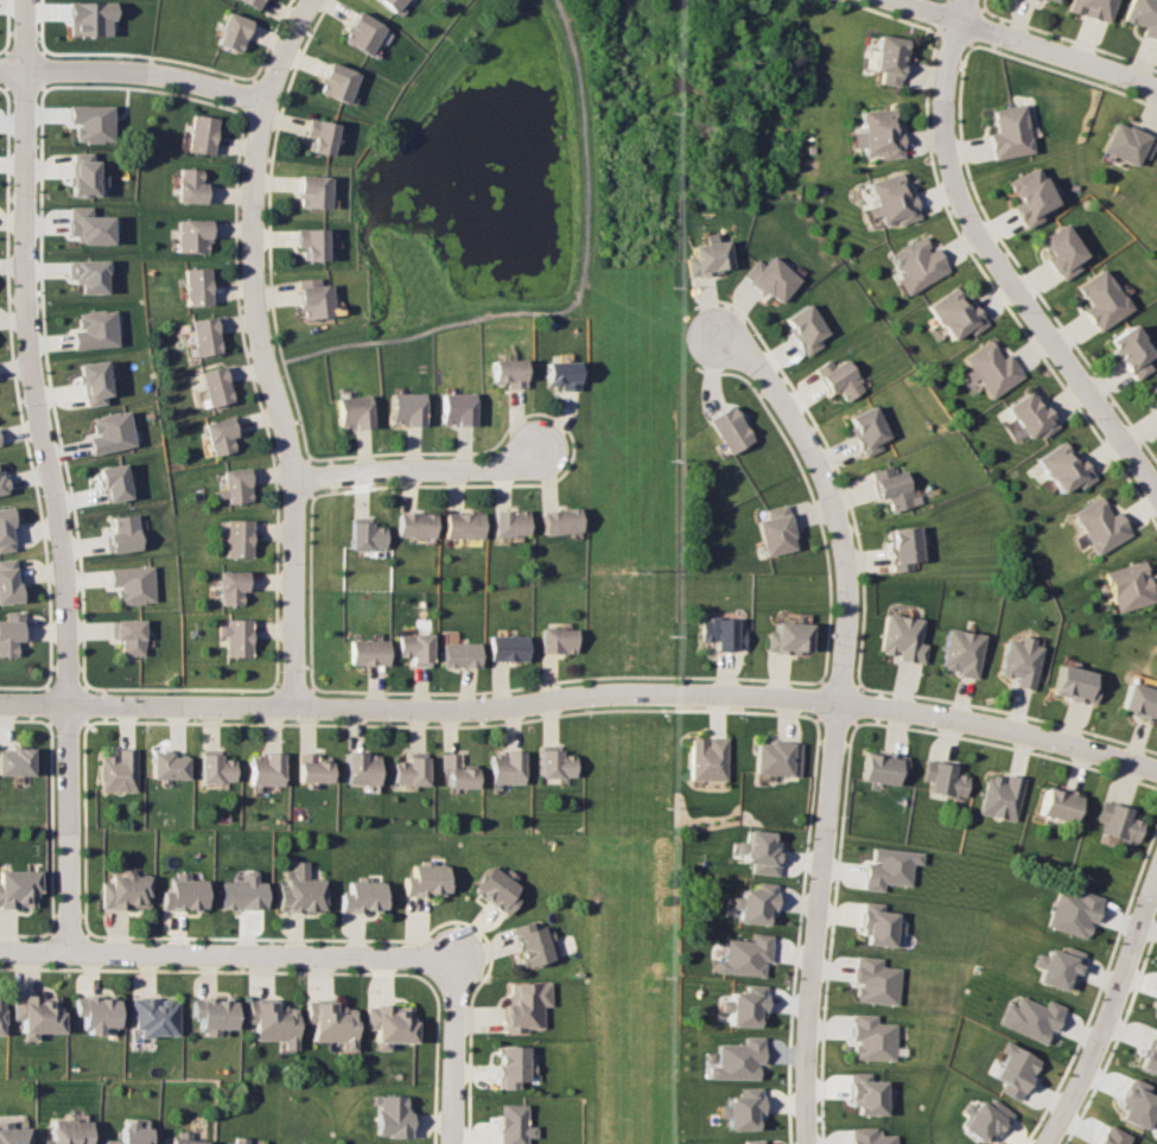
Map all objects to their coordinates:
building: (1053, 0)
building: (250, 2)
building: (389, 4)
building: (1093, 8)
building: (1143, 15)
building: (89, 18)
building: (231, 31)
building: (361, 32)
road: (1023, 46)
building: (886, 58)
road: (132, 72)
building: (336, 82)
building: (90, 122)
building: (1010, 132)
building: (878, 133)
building: (199, 134)
building: (318, 134)
building: (1130, 142)
road: (24, 146)
building: (83, 174)
building: (190, 185)
building: (311, 191)
building: (1032, 196)
building: (891, 201)
building: (87, 225)
building: (190, 235)
building: (310, 242)
building: (1063, 249)
building: (707, 258)
road: (1004, 259)
building: (917, 263)
building: (87, 274)
building: (771, 278)
building: (193, 286)
building: (313, 298)
building: (1102, 299)
road: (570, 306)
building: (956, 313)
building: (93, 328)
building: (805, 328)
building: (203, 335)
road: (262, 350)
building: (1132, 351)
building: (991, 368)
building: (507, 371)
building: (560, 374)
building: (839, 379)
building: (91, 382)
building: (214, 386)
building: (1152, 390)
building: (405, 408)
building: (454, 408)
building: (1156, 411)
building: (352, 412)
building: (1030, 415)
building: (730, 428)
building: (867, 430)
building: (109, 432)
building: (220, 434)
building: (1064, 468)
road: (420, 472)
building: (113, 481)
building: (2, 482)
building: (235, 485)
building: (894, 487)
building: (559, 520)
building: (510, 522)
building: (417, 523)
building: (463, 525)
building: (1099, 525)
building: (6, 529)
building: (776, 530)
building: (123, 533)
building: (367, 534)
building: (239, 538)
building: (903, 546)
building: (9, 580)
building: (133, 584)
building: (1129, 585)
building: (233, 586)
road: (69, 623)
building: (12, 633)
building: (720, 633)
building: (131, 635)
building: (236, 636)
building: (788, 637)
building: (902, 637)
building: (558, 640)
building: (417, 647)
building: (509, 647)
building: (369, 652)
building: (961, 652)
building: (462, 654)
building: (1019, 661)
building: (1074, 684)
building: (1139, 701)
road: (580, 707)
road: (843, 717)
building: (706, 757)
building: (776, 757)
building: (15, 761)
building: (555, 762)
building: (167, 765)
building: (215, 767)
building: (507, 767)
building: (884, 767)
building: (265, 768)
building: (312, 768)
building: (362, 768)
building: (412, 769)
building: (117, 770)
building: (458, 771)
building: (945, 778)
building: (1003, 795)
building: (1061, 802)
building: (1119, 821)
building: (757, 852)
building: (890, 867)
building: (426, 881)
building: (18, 888)
building: (496, 889)
building: (126, 890)
building: (184, 892)
building: (243, 892)
building: (362, 895)
building: (752, 904)
building: (1075, 911)
building: (878, 923)
building: (535, 943)
building: (743, 955)
road: (224, 958)
building: (1059, 967)
building: (875, 980)
building: (743, 1006)
building: (96, 1012)
building: (1, 1013)
building: (36, 1013)
building: (212, 1013)
building: (154, 1016)
building: (1031, 1017)
road: (1108, 1017)
building: (272, 1022)
building: (331, 1022)
building: (389, 1023)
building: (871, 1037)
building: (1151, 1054)
road: (459, 1059)
building: (735, 1060)
building: (515, 1066)
building: (1015, 1069)
building: (865, 1093)
building: (1137, 1104)
building: (740, 1110)
building: (390, 1117)
building: (984, 1118)
building: (514, 1124)
building: (68, 1131)
building: (132, 1132)
building: (13, 1133)
building: (869, 1136)
building: (1112, 1136)
building: (184, 1138)
building: (237, 1140)
building: (751, 1142)

